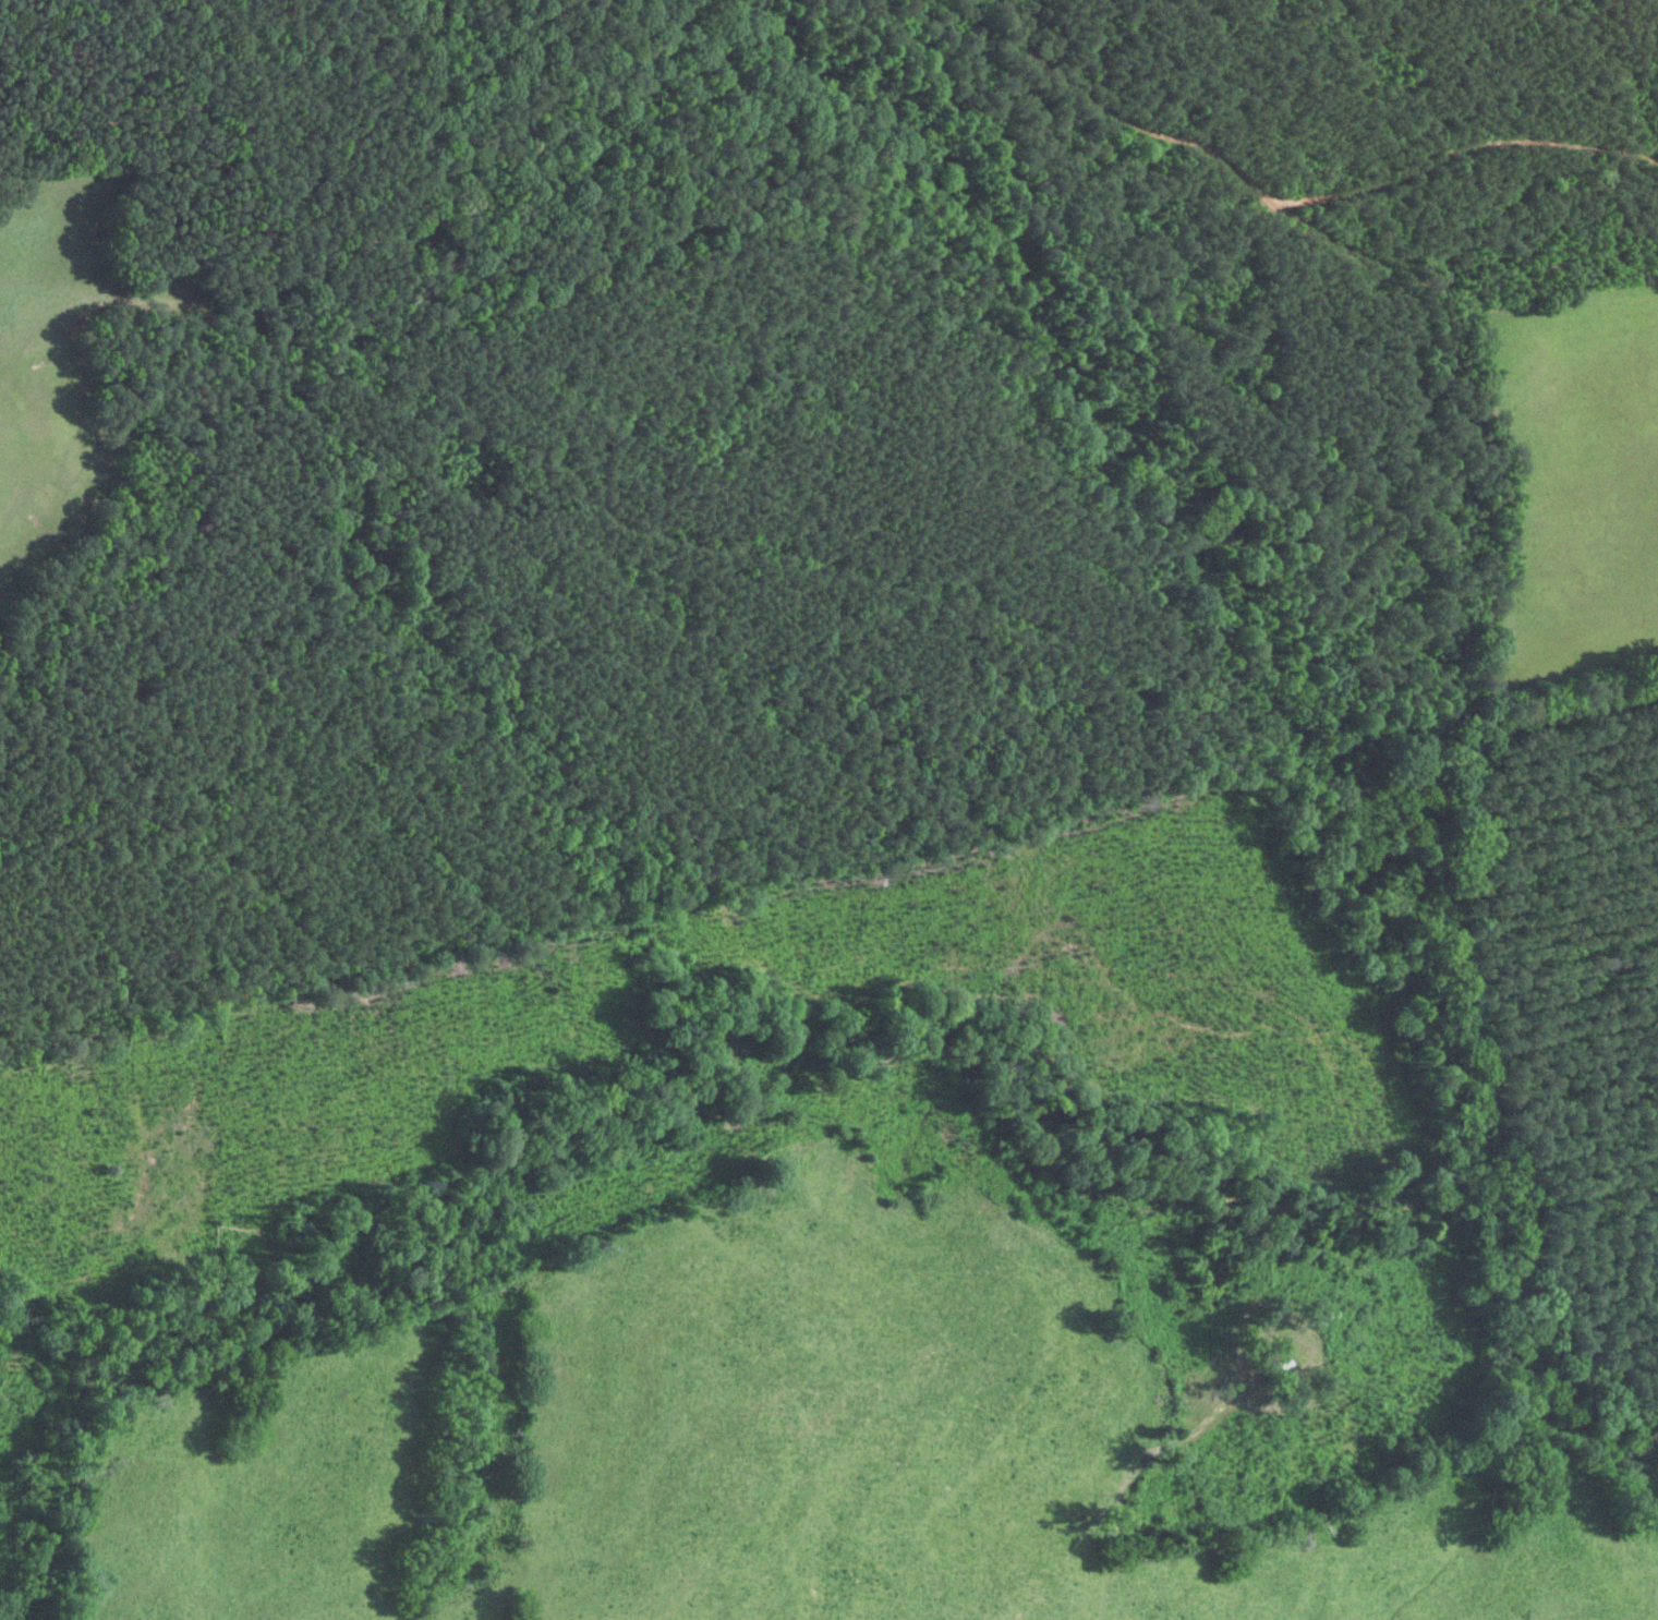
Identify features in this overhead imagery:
road: (1294, 204)

